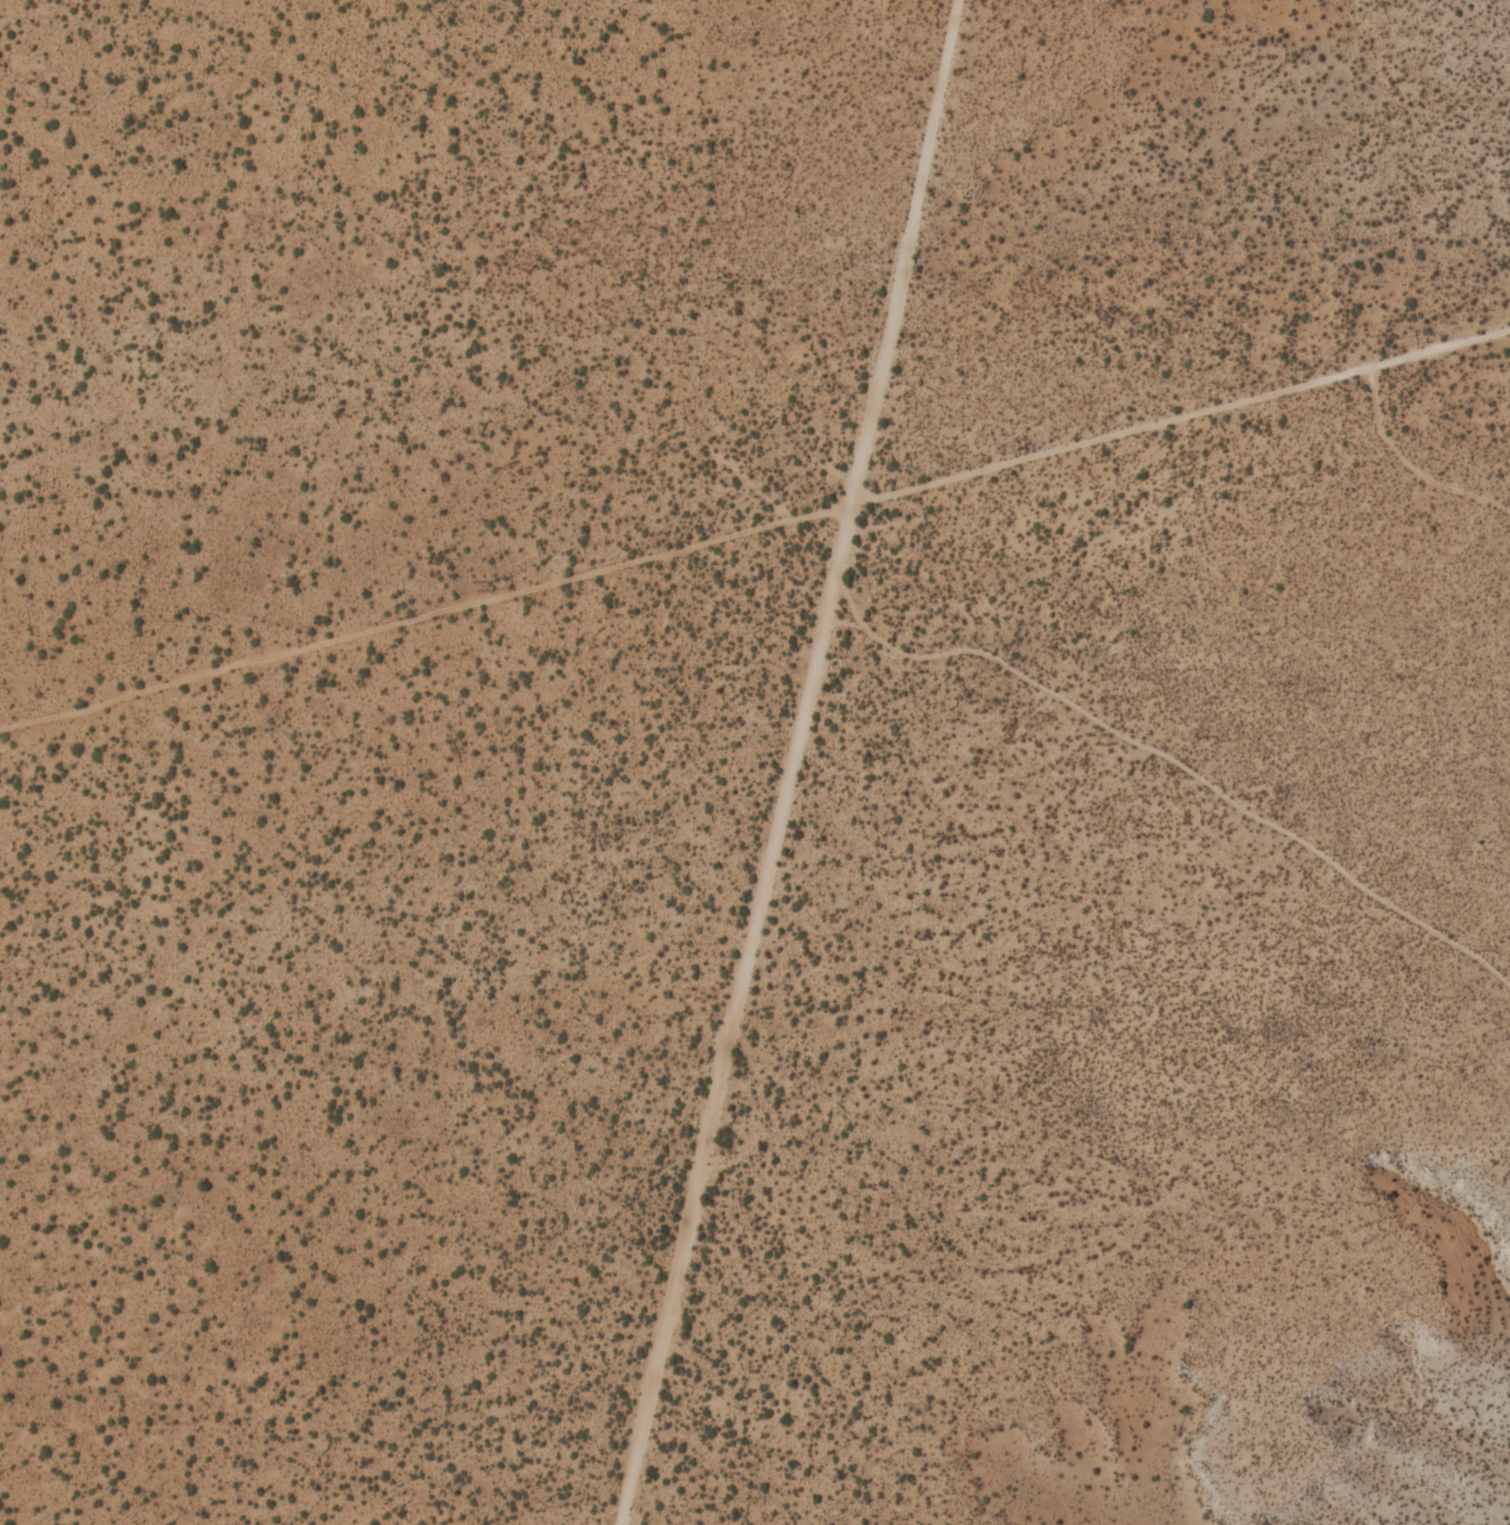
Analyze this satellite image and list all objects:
power tower: (1388, 325)
power tower: (1000, 436)
road: (752, 533)
power tower: (488, 584)
road: (791, 763)

